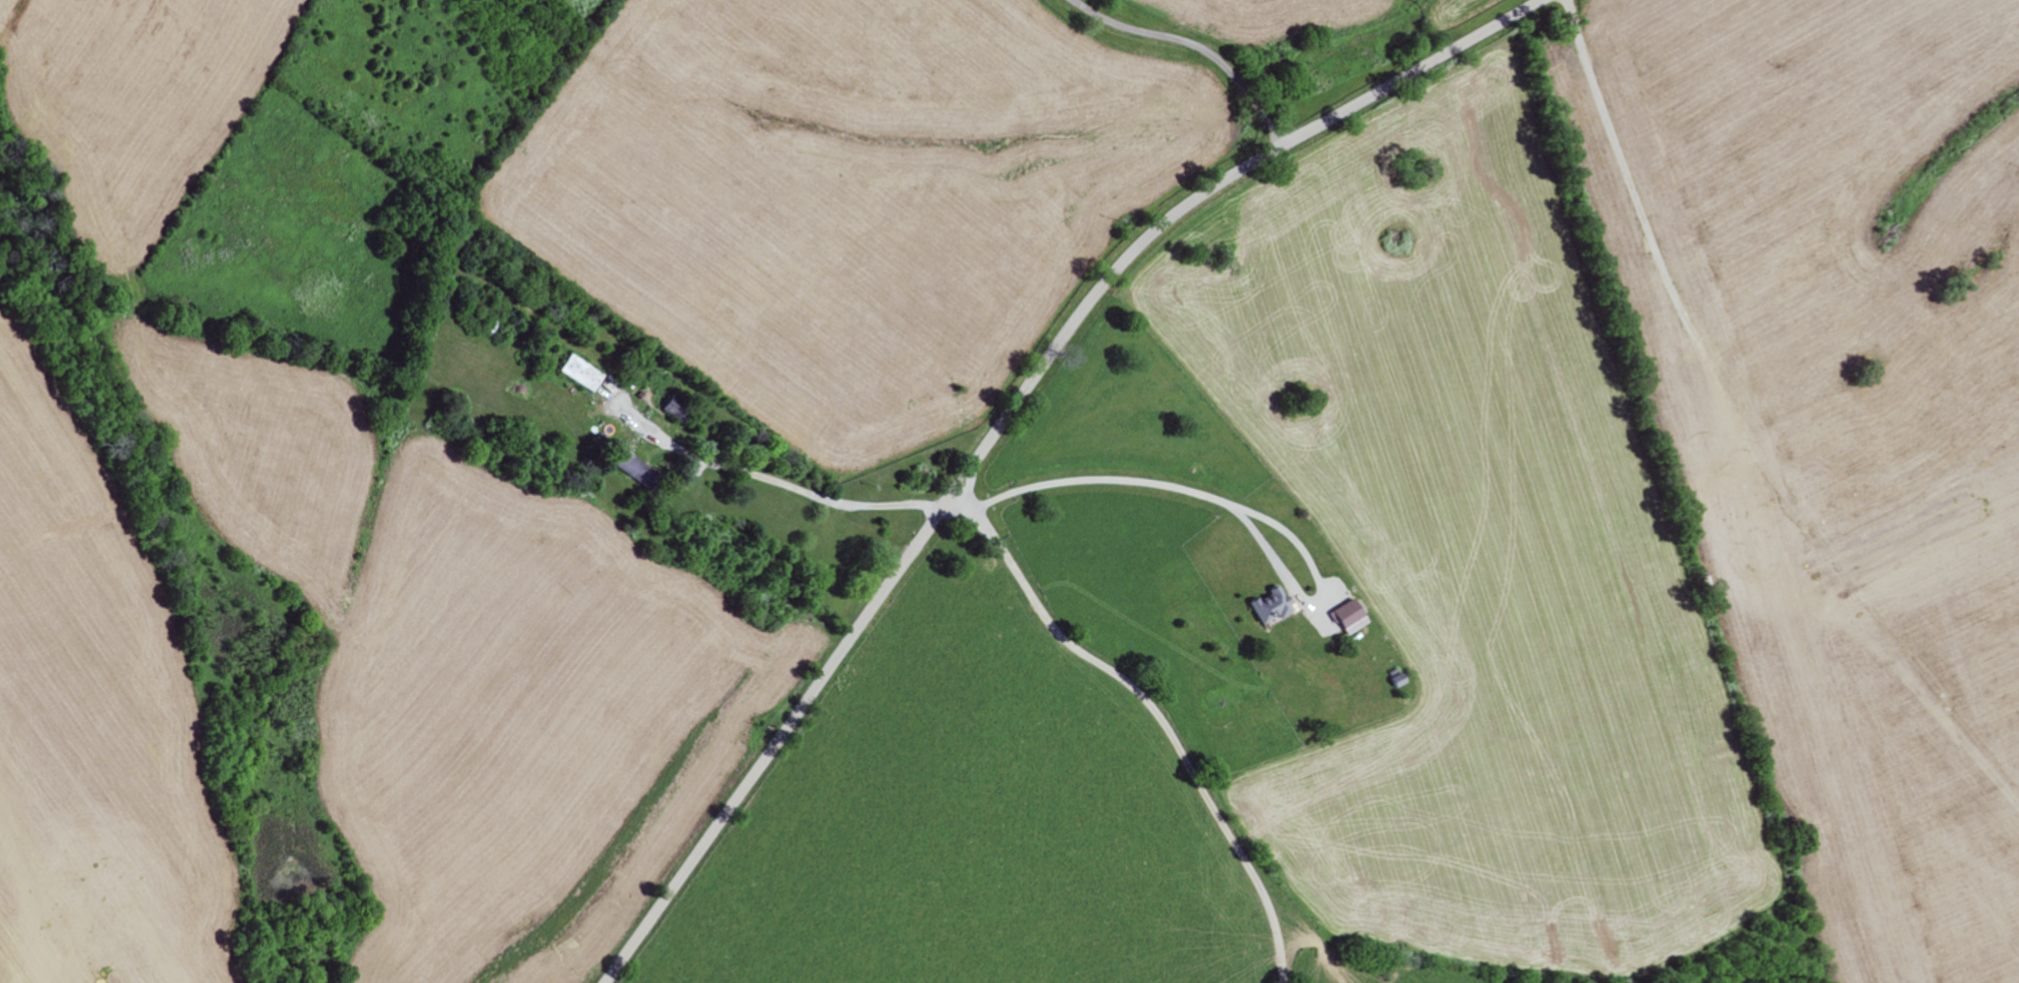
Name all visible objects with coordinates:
road: (1196, 44)
building: (580, 371)
road: (1007, 418)
road: (1127, 479)
road: (772, 493)
building: (1269, 605)
building: (1348, 615)
road: (1158, 719)

